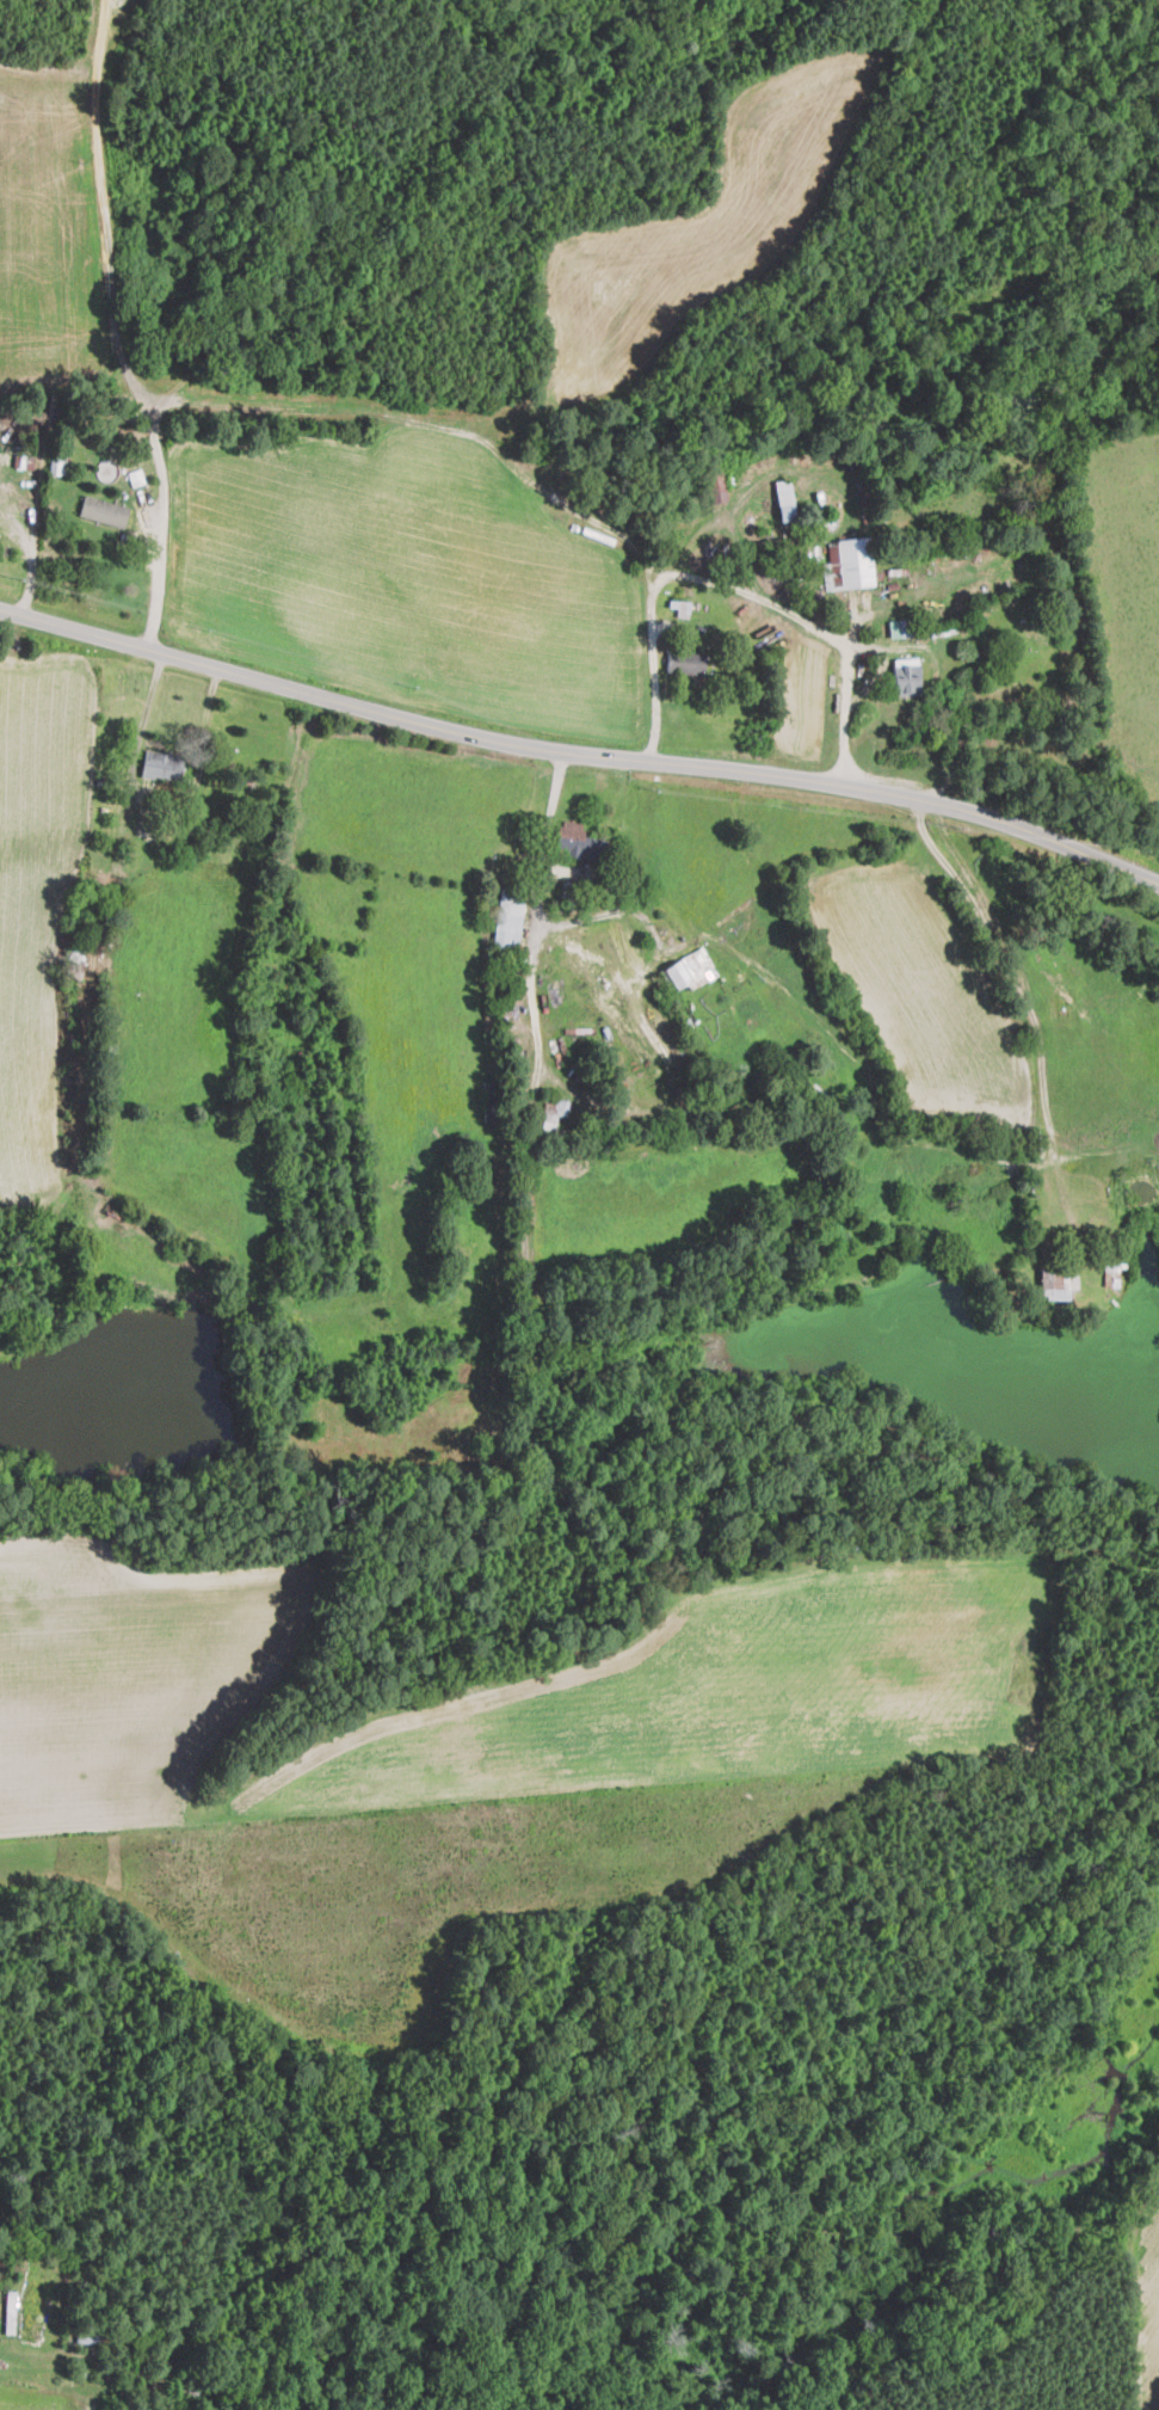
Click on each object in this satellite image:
road: (116, 327)
building: (715, 486)
building: (785, 499)
building: (104, 510)
building: (849, 564)
road: (739, 586)
building: (680, 607)
building: (900, 627)
building: (685, 662)
building: (906, 676)
road: (578, 752)
building: (161, 764)
road: (150, 803)
road: (537, 910)
building: (508, 916)
building: (74, 969)
building: (689, 969)
building: (1058, 1283)
building: (11, 2311)

